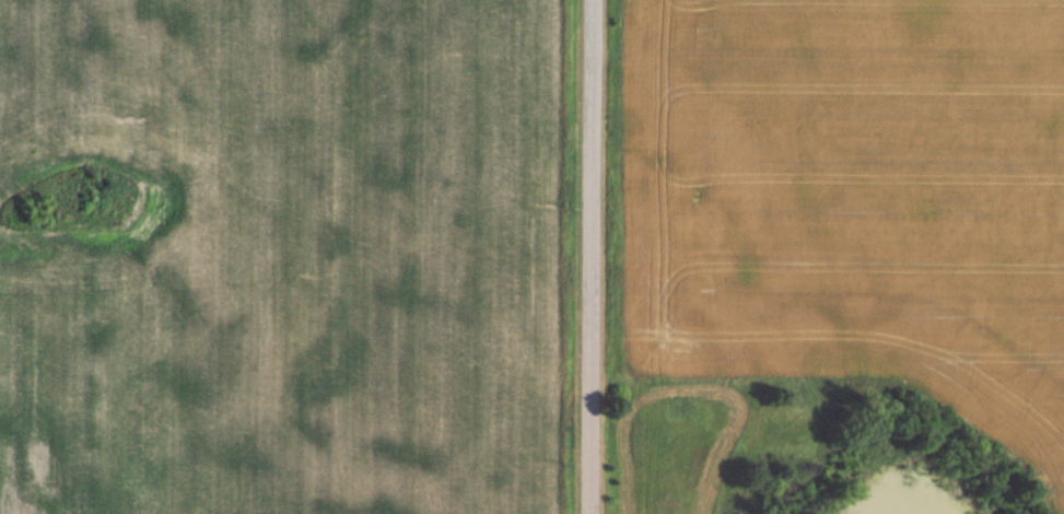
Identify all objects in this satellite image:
road: (588, 257)

